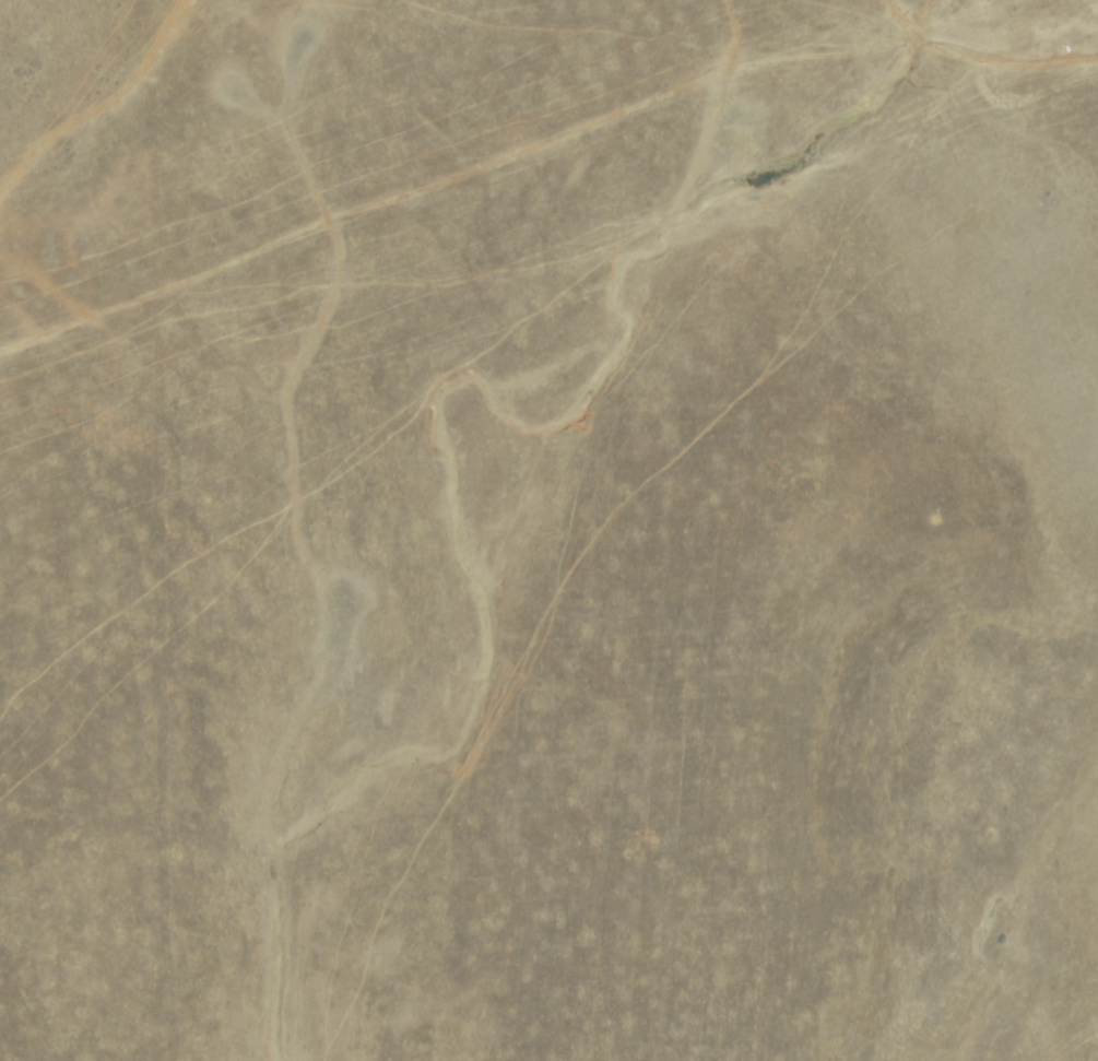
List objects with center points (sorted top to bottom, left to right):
road: (980, 67)

